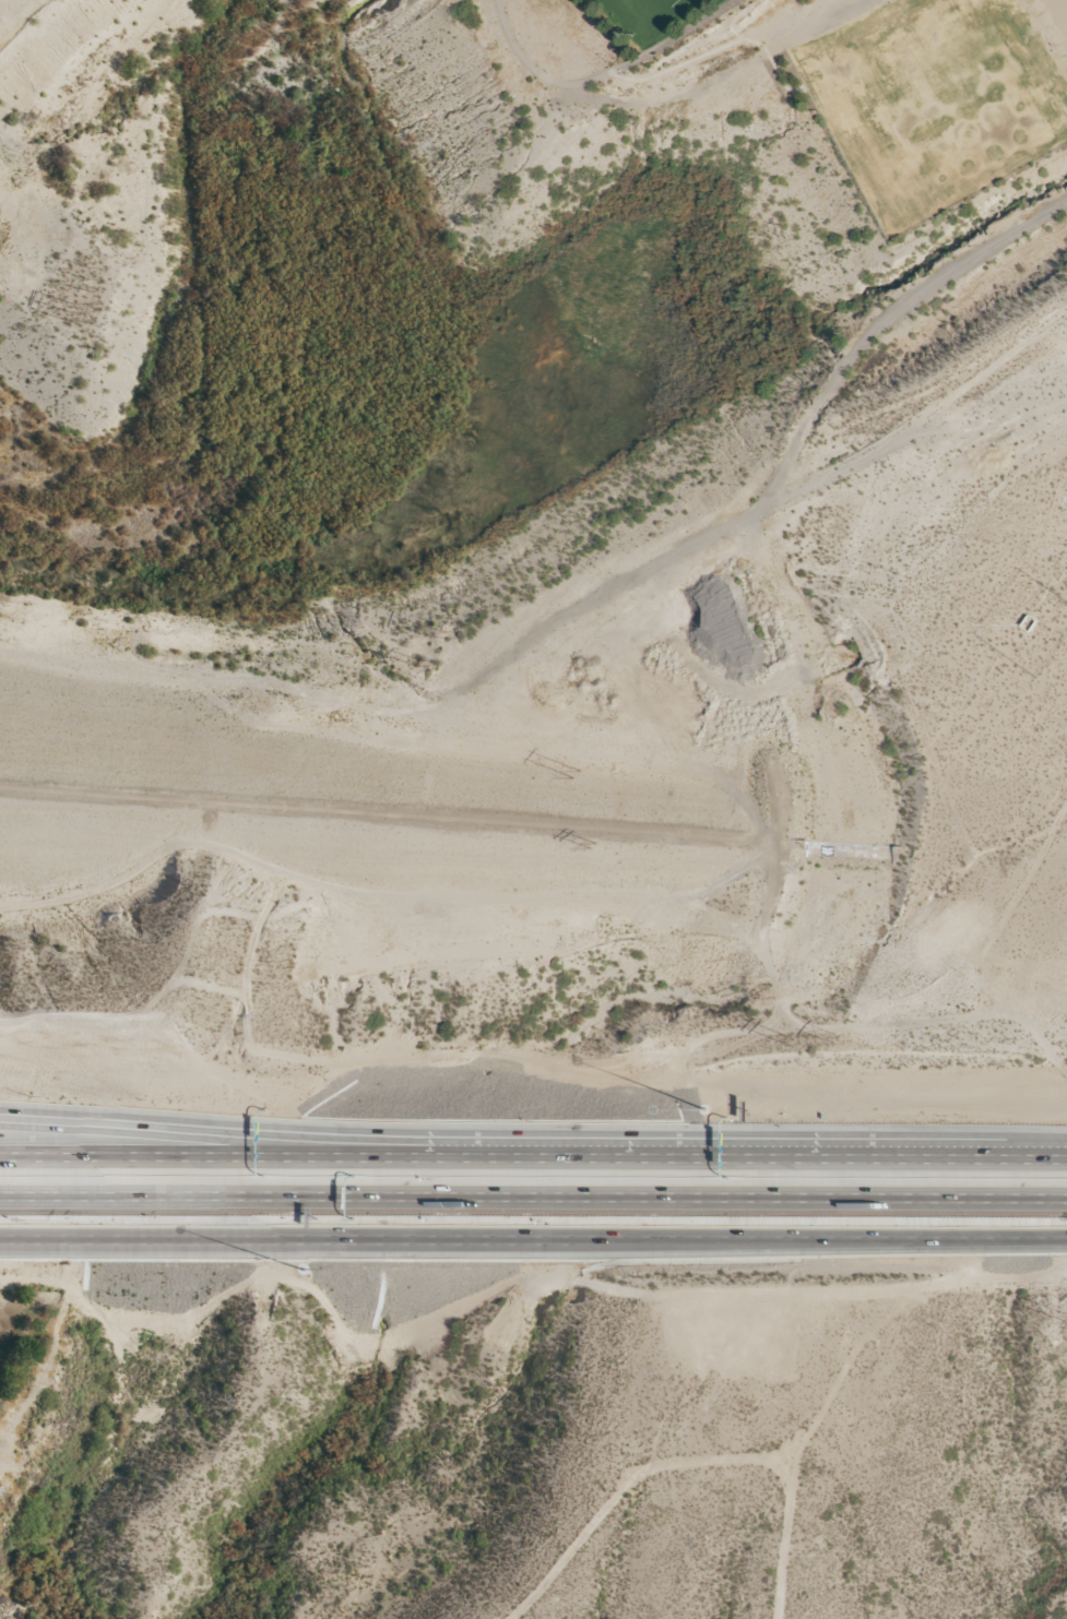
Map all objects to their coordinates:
road: (602, 73)
park: (845, 79)
road: (292, 1131)
road: (533, 1150)
road: (533, 1199)
road: (533, 1240)
park: (21, 1328)

